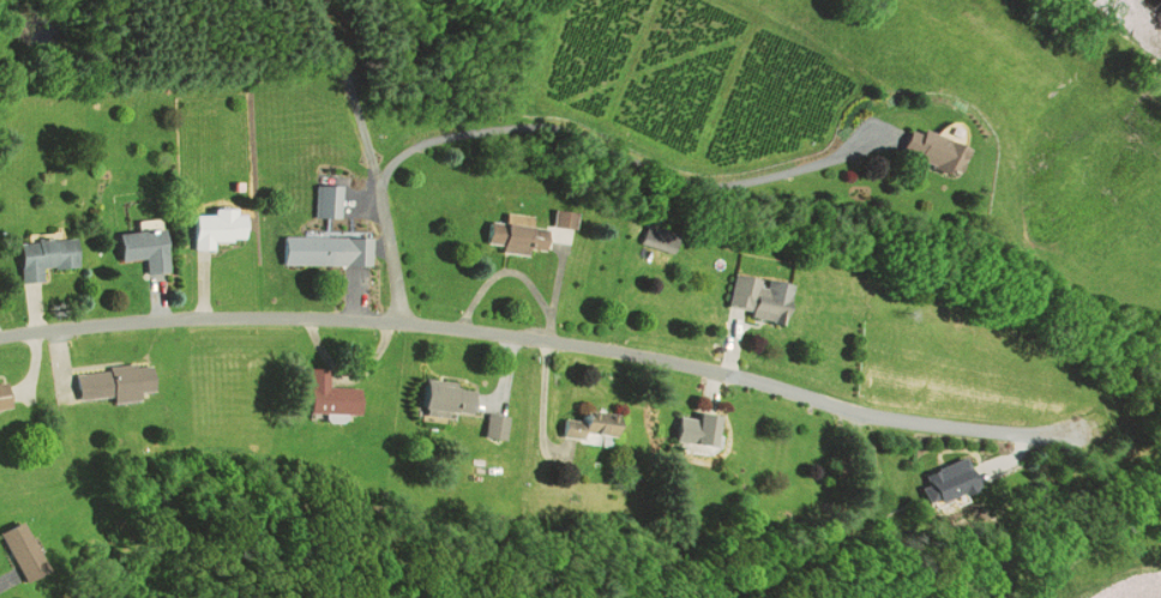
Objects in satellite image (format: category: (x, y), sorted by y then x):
building: (938, 146)
road: (380, 188)
building: (331, 200)
building: (567, 217)
building: (222, 228)
building: (666, 232)
building: (521, 234)
building: (652, 237)
building: (150, 244)
building: (315, 248)
building: (47, 255)
building: (763, 295)
road: (547, 338)
building: (118, 380)
building: (332, 394)
building: (5, 395)
building: (453, 398)
building: (498, 422)
building: (592, 422)
building: (487, 427)
building: (703, 427)
building: (954, 477)
building: (24, 549)
river: (1154, 594)

